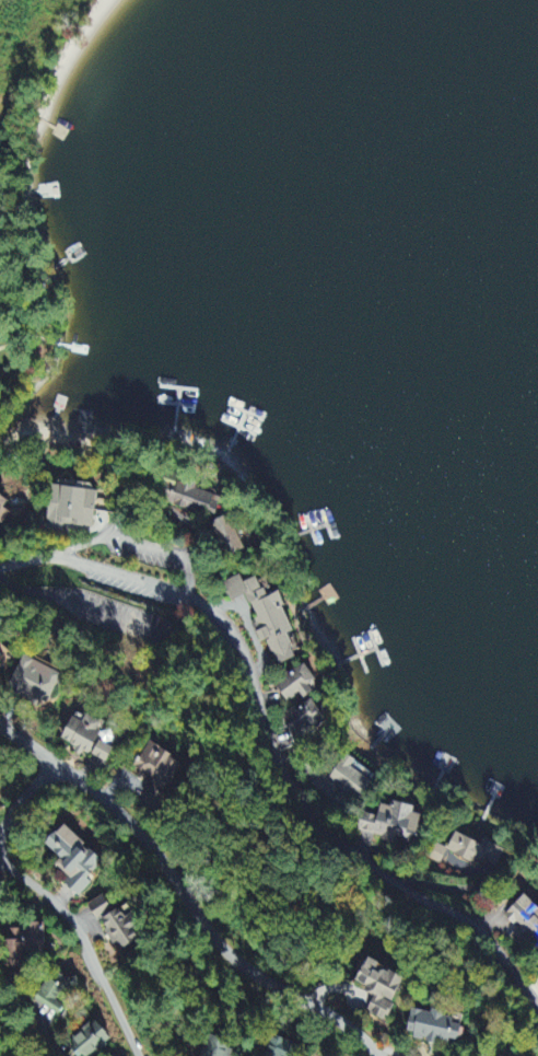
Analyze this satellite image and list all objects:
building: (74, 508)
building: (4, 509)
building: (230, 536)
building: (269, 617)
building: (4, 658)
building: (34, 684)
building: (300, 685)
building: (304, 719)
building: (91, 739)
road: (273, 752)
building: (157, 767)
building: (352, 779)
road: (23, 793)
building: (394, 825)
building: (476, 851)
building: (437, 856)
building: (75, 857)
road: (182, 896)
building: (102, 907)
building: (524, 924)
building: (125, 928)
road: (84, 941)
building: (16, 949)
building: (382, 989)
building: (54, 999)
building: (435, 1028)
road: (45, 1037)
building: (92, 1041)
building: (218, 1047)
building: (285, 1048)
road: (387, 1052)

